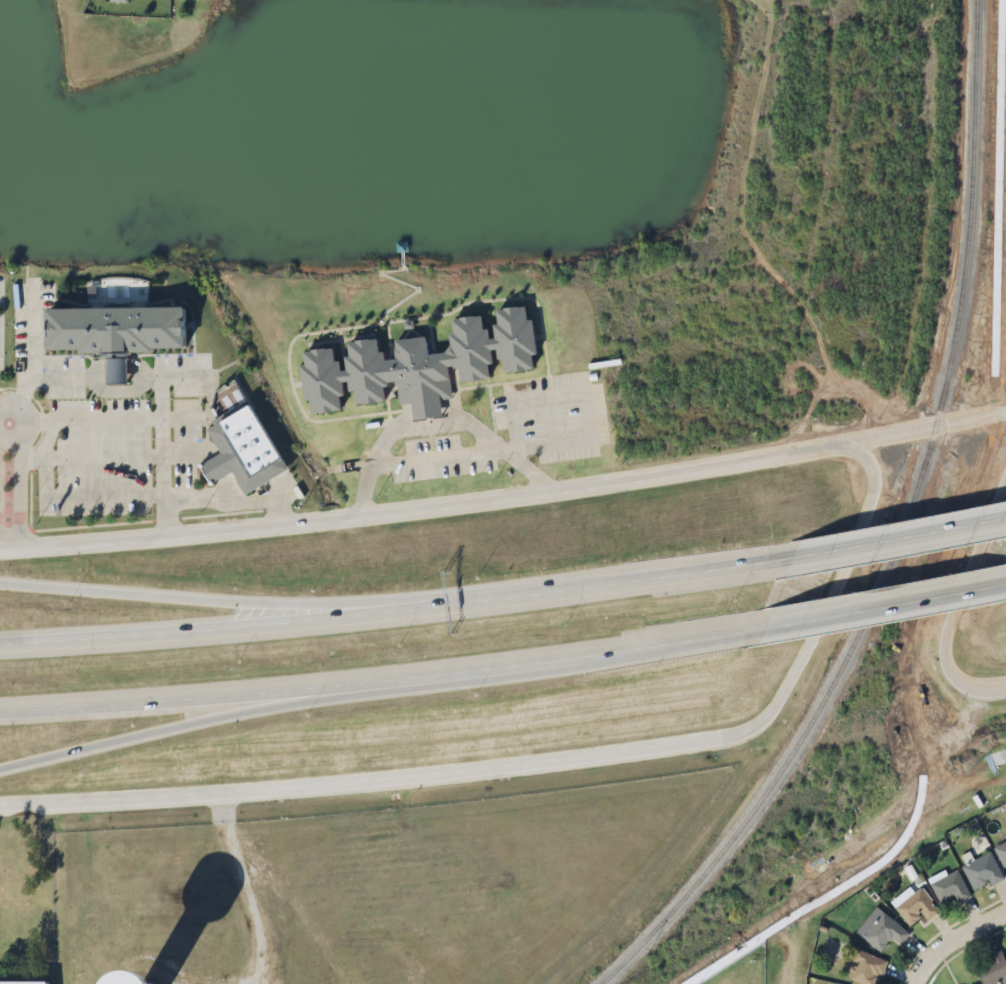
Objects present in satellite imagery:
building: (112, 0)
building: (124, 316)
building: (425, 355)
building: (114, 370)
road: (437, 422)
road: (5, 425)
road: (132, 426)
building: (249, 437)
road: (10, 488)
road: (505, 496)
railway: (901, 536)
road: (896, 539)
road: (965, 592)
road: (837, 593)
road: (307, 601)
road: (883, 607)
road: (394, 610)
road: (381, 685)
road: (986, 690)
road: (177, 730)
road: (372, 776)
building: (1002, 854)
building: (982, 873)
building: (951, 889)
building: (917, 908)
building: (885, 933)
road: (953, 939)
building: (380, 966)
wastewater plant: (735, 967)
building: (866, 969)
building: (992, 970)
building: (28, 977)

